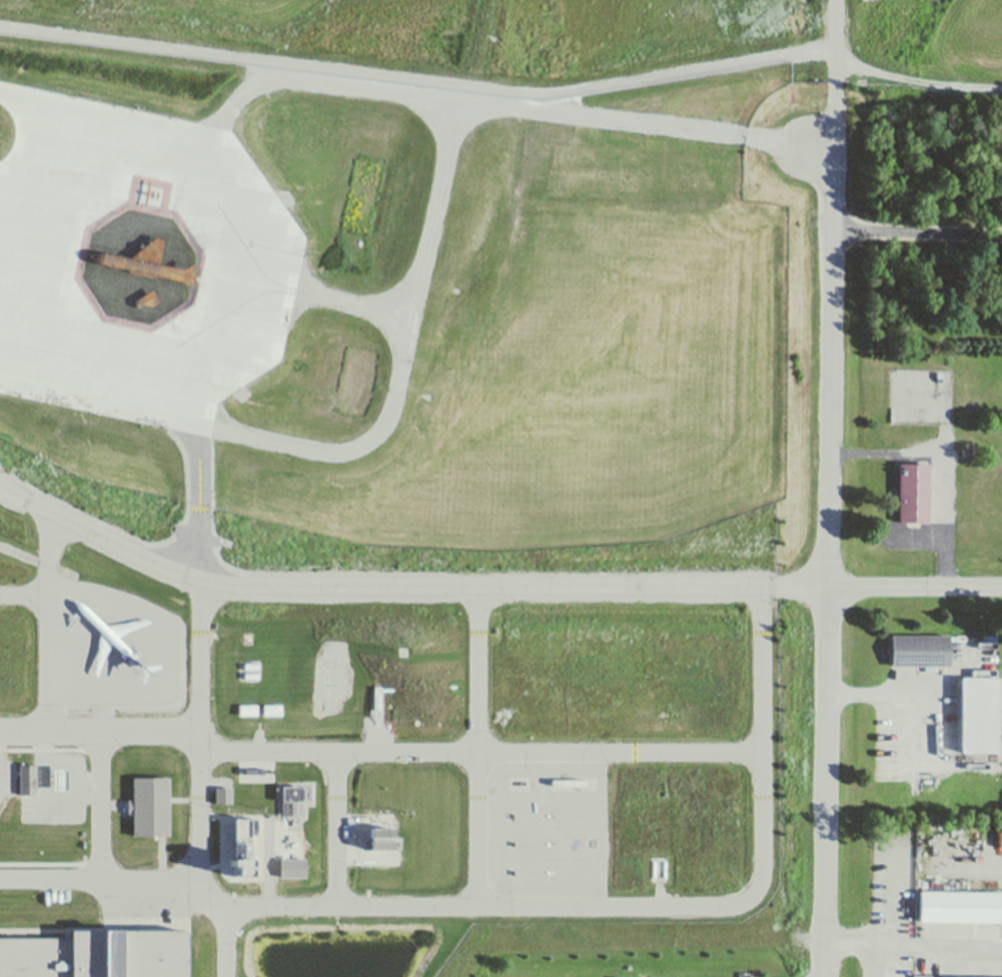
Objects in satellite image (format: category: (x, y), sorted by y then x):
airport: (545, 39)
road: (837, 40)
road: (419, 79)
road: (917, 81)
road: (500, 105)
road: (834, 120)
road: (15, 194)
road: (262, 215)
road: (917, 231)
building: (392, 298)
road: (337, 300)
road: (3, 322)
road: (405, 359)
building: (914, 498)
road: (828, 556)
railway: (38, 560)
road: (376, 584)
road: (802, 584)
road: (914, 584)
road: (24, 596)
road: (48, 619)
building: (115, 640)
building: (918, 653)
building: (980, 679)
road: (201, 691)
road: (101, 710)
building: (248, 713)
building: (273, 714)
building: (979, 721)
road: (100, 729)
road: (478, 744)
road: (481, 750)
building: (26, 778)
building: (58, 778)
gas station: (58, 778)
building: (267, 780)
building: (221, 784)
building: (224, 795)
road: (184, 798)
building: (211, 798)
building: (296, 799)
road: (101, 803)
road: (114, 804)
building: (149, 805)
building: (63, 822)
road: (337, 828)
building: (381, 839)
building: (241, 847)
road: (163, 855)
road: (972, 864)
building: (293, 868)
road: (100, 877)
road: (892, 889)
road: (148, 903)
road: (628, 904)
building: (960, 911)
road: (226, 939)
road: (857, 943)
road: (946, 944)
building: (95, 954)
road: (890, 960)
building: (926, 976)

